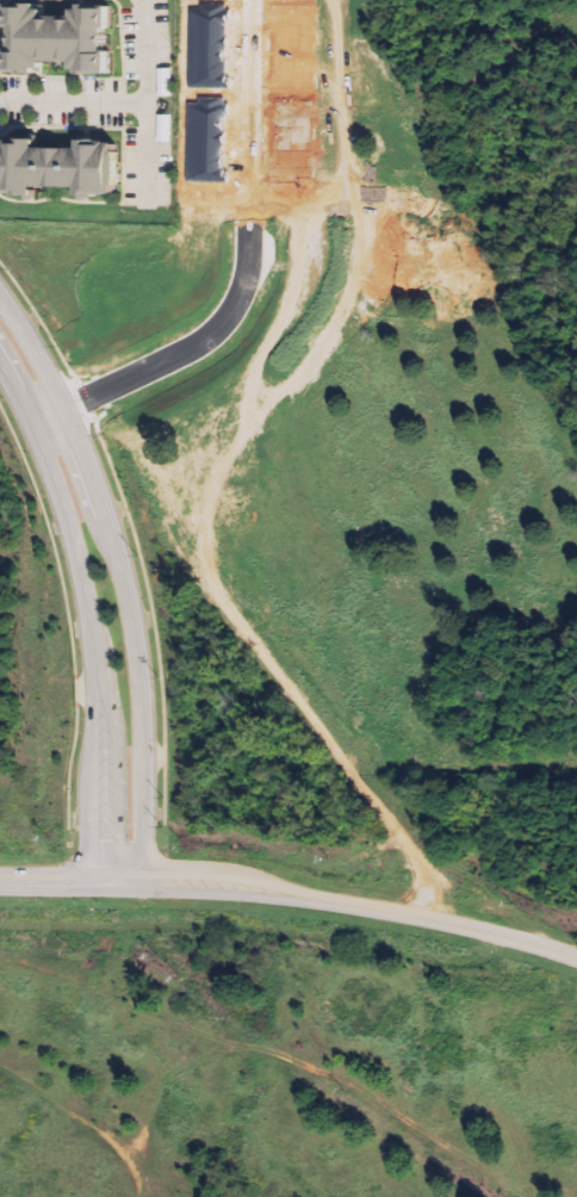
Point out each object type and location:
building: (55, 37)
road: (143, 51)
road: (123, 103)
building: (56, 167)
road: (44, 416)
road: (119, 583)
road: (86, 622)
road: (405, 841)
road: (61, 883)
road: (352, 905)

